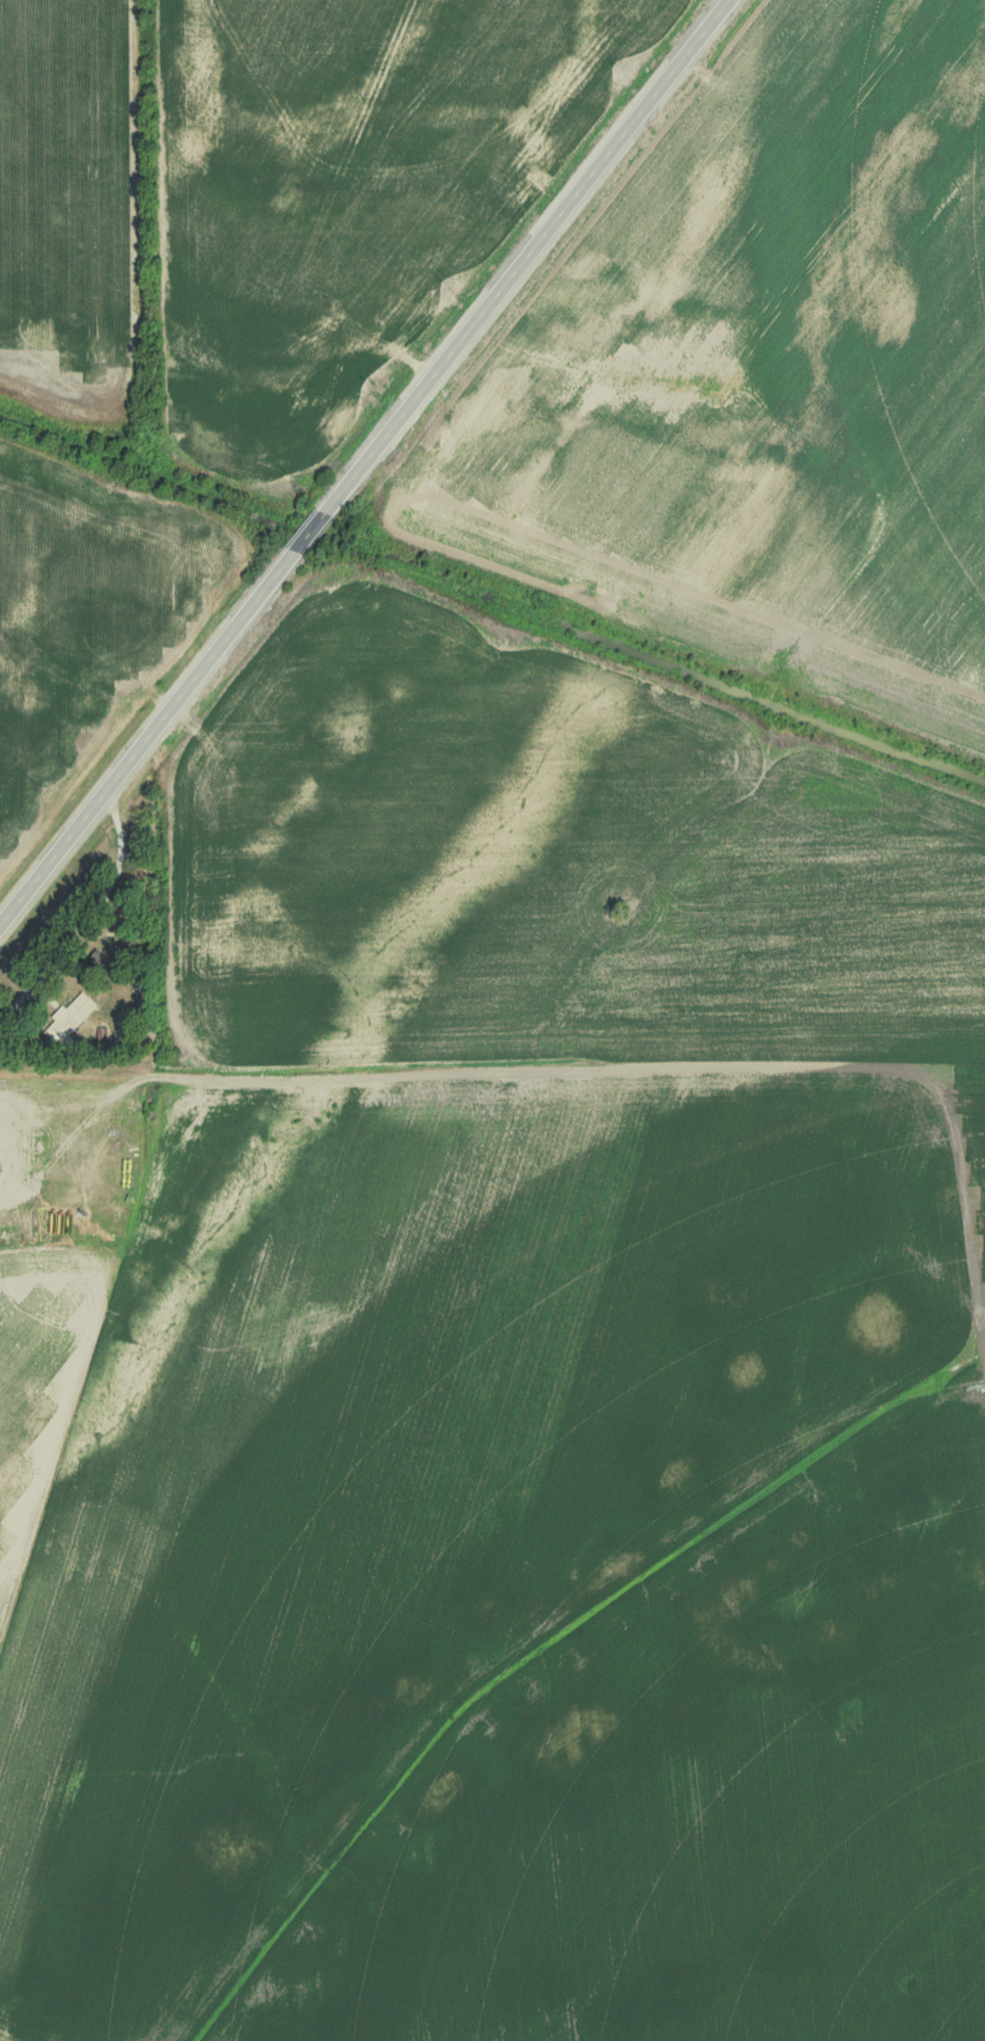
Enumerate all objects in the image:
road: (365, 462)
building: (112, 936)
building: (135, 1014)
building: (69, 1016)
building: (3, 1149)

